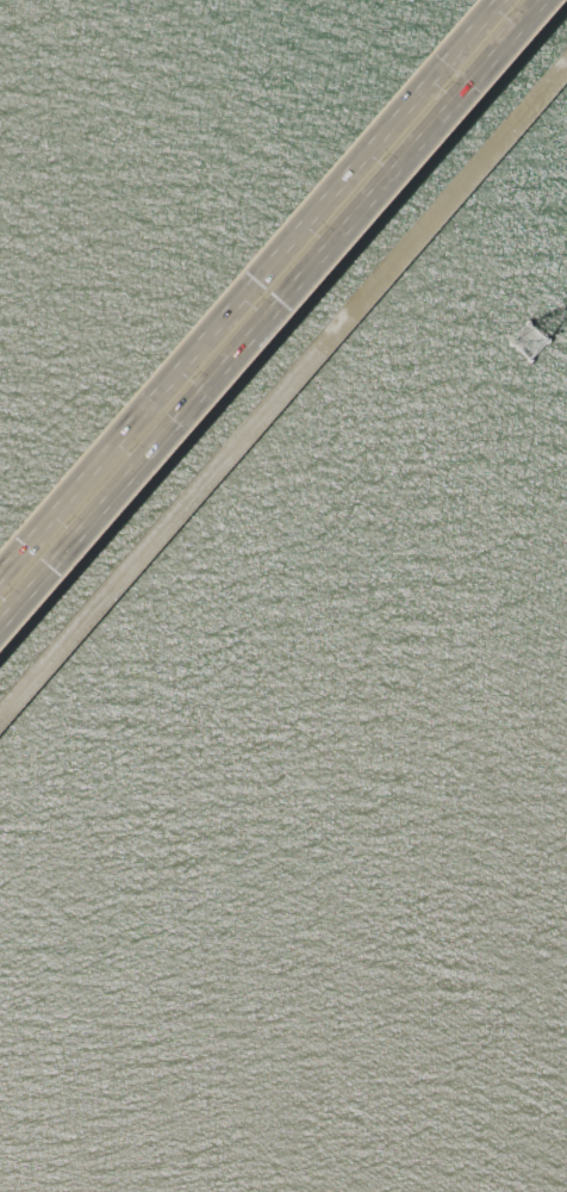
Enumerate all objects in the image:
road: (253, 291)
road: (274, 315)
pier: (525, 340)
power tower: (532, 343)
road: (283, 385)
pier: (281, 386)

